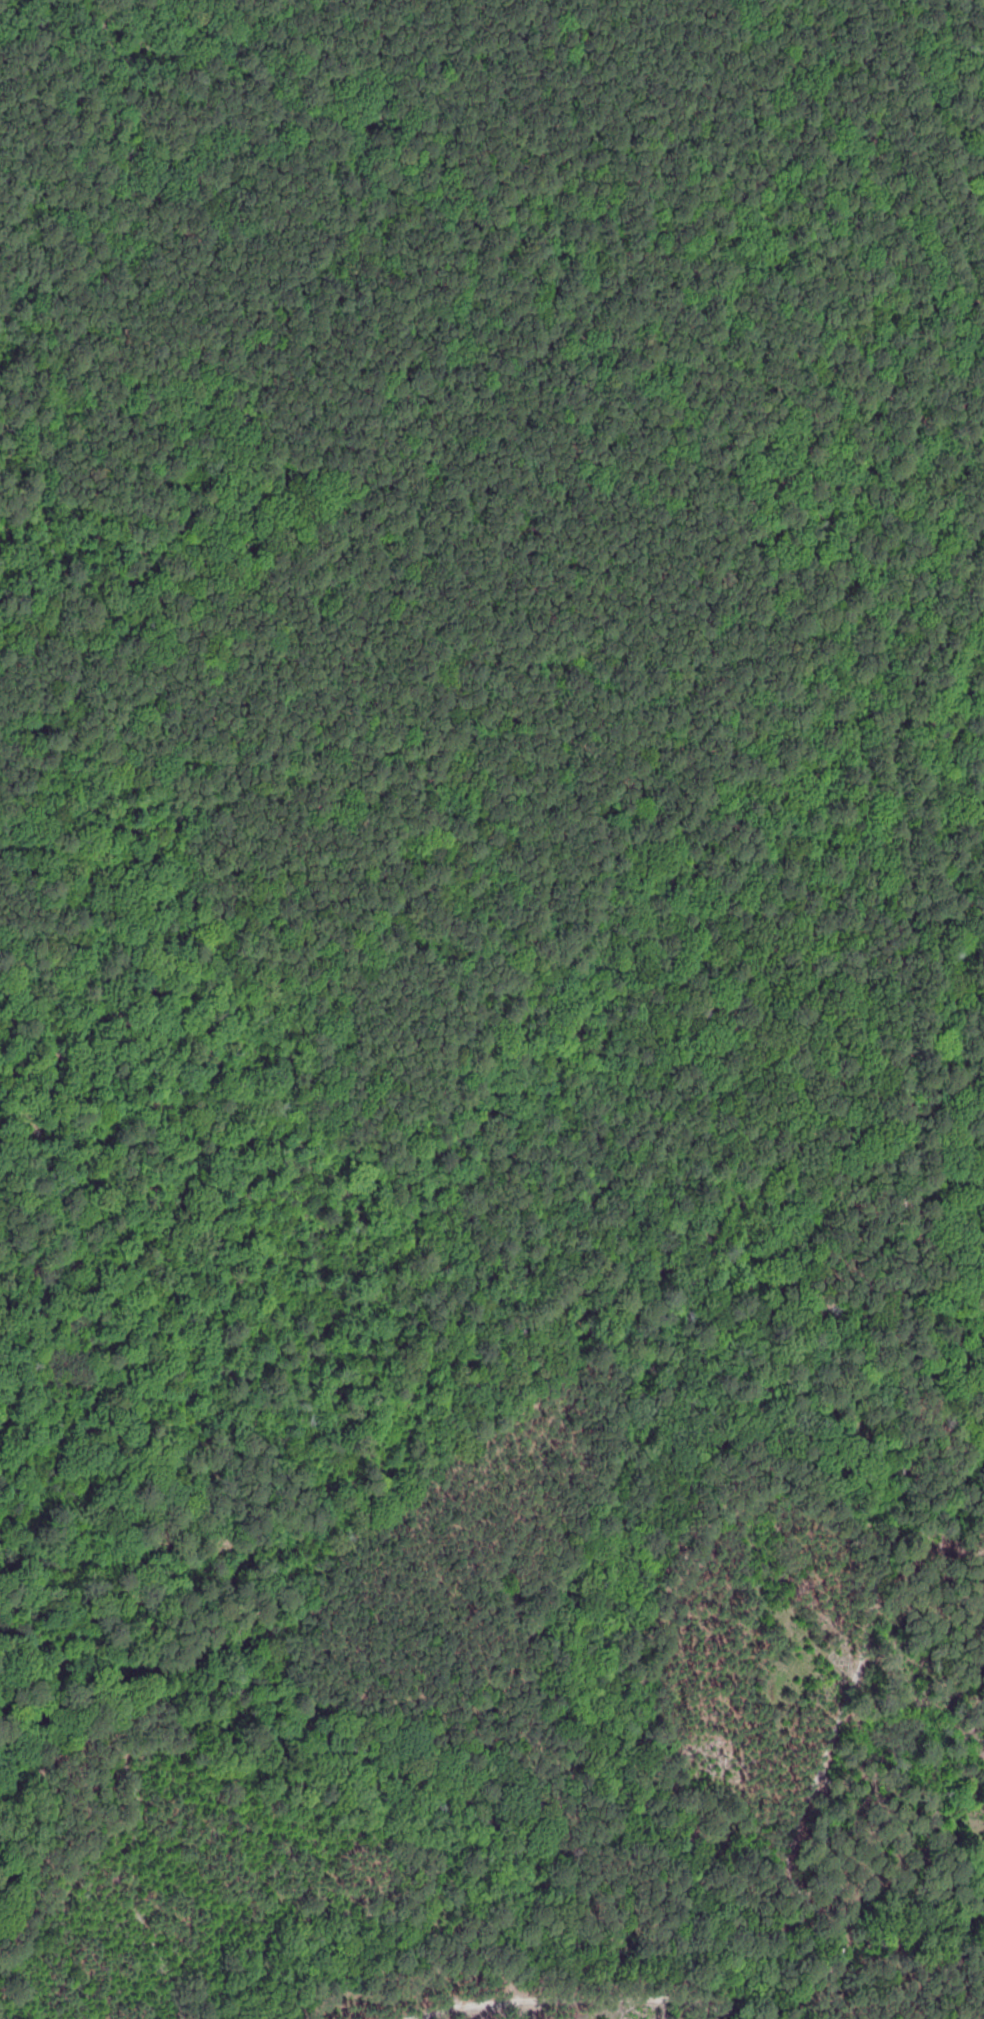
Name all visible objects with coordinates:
road: (936, 130)
road: (447, 457)
road: (951, 824)
park: (492, 1009)
road: (967, 1044)
road: (844, 1728)
road: (123, 1809)

